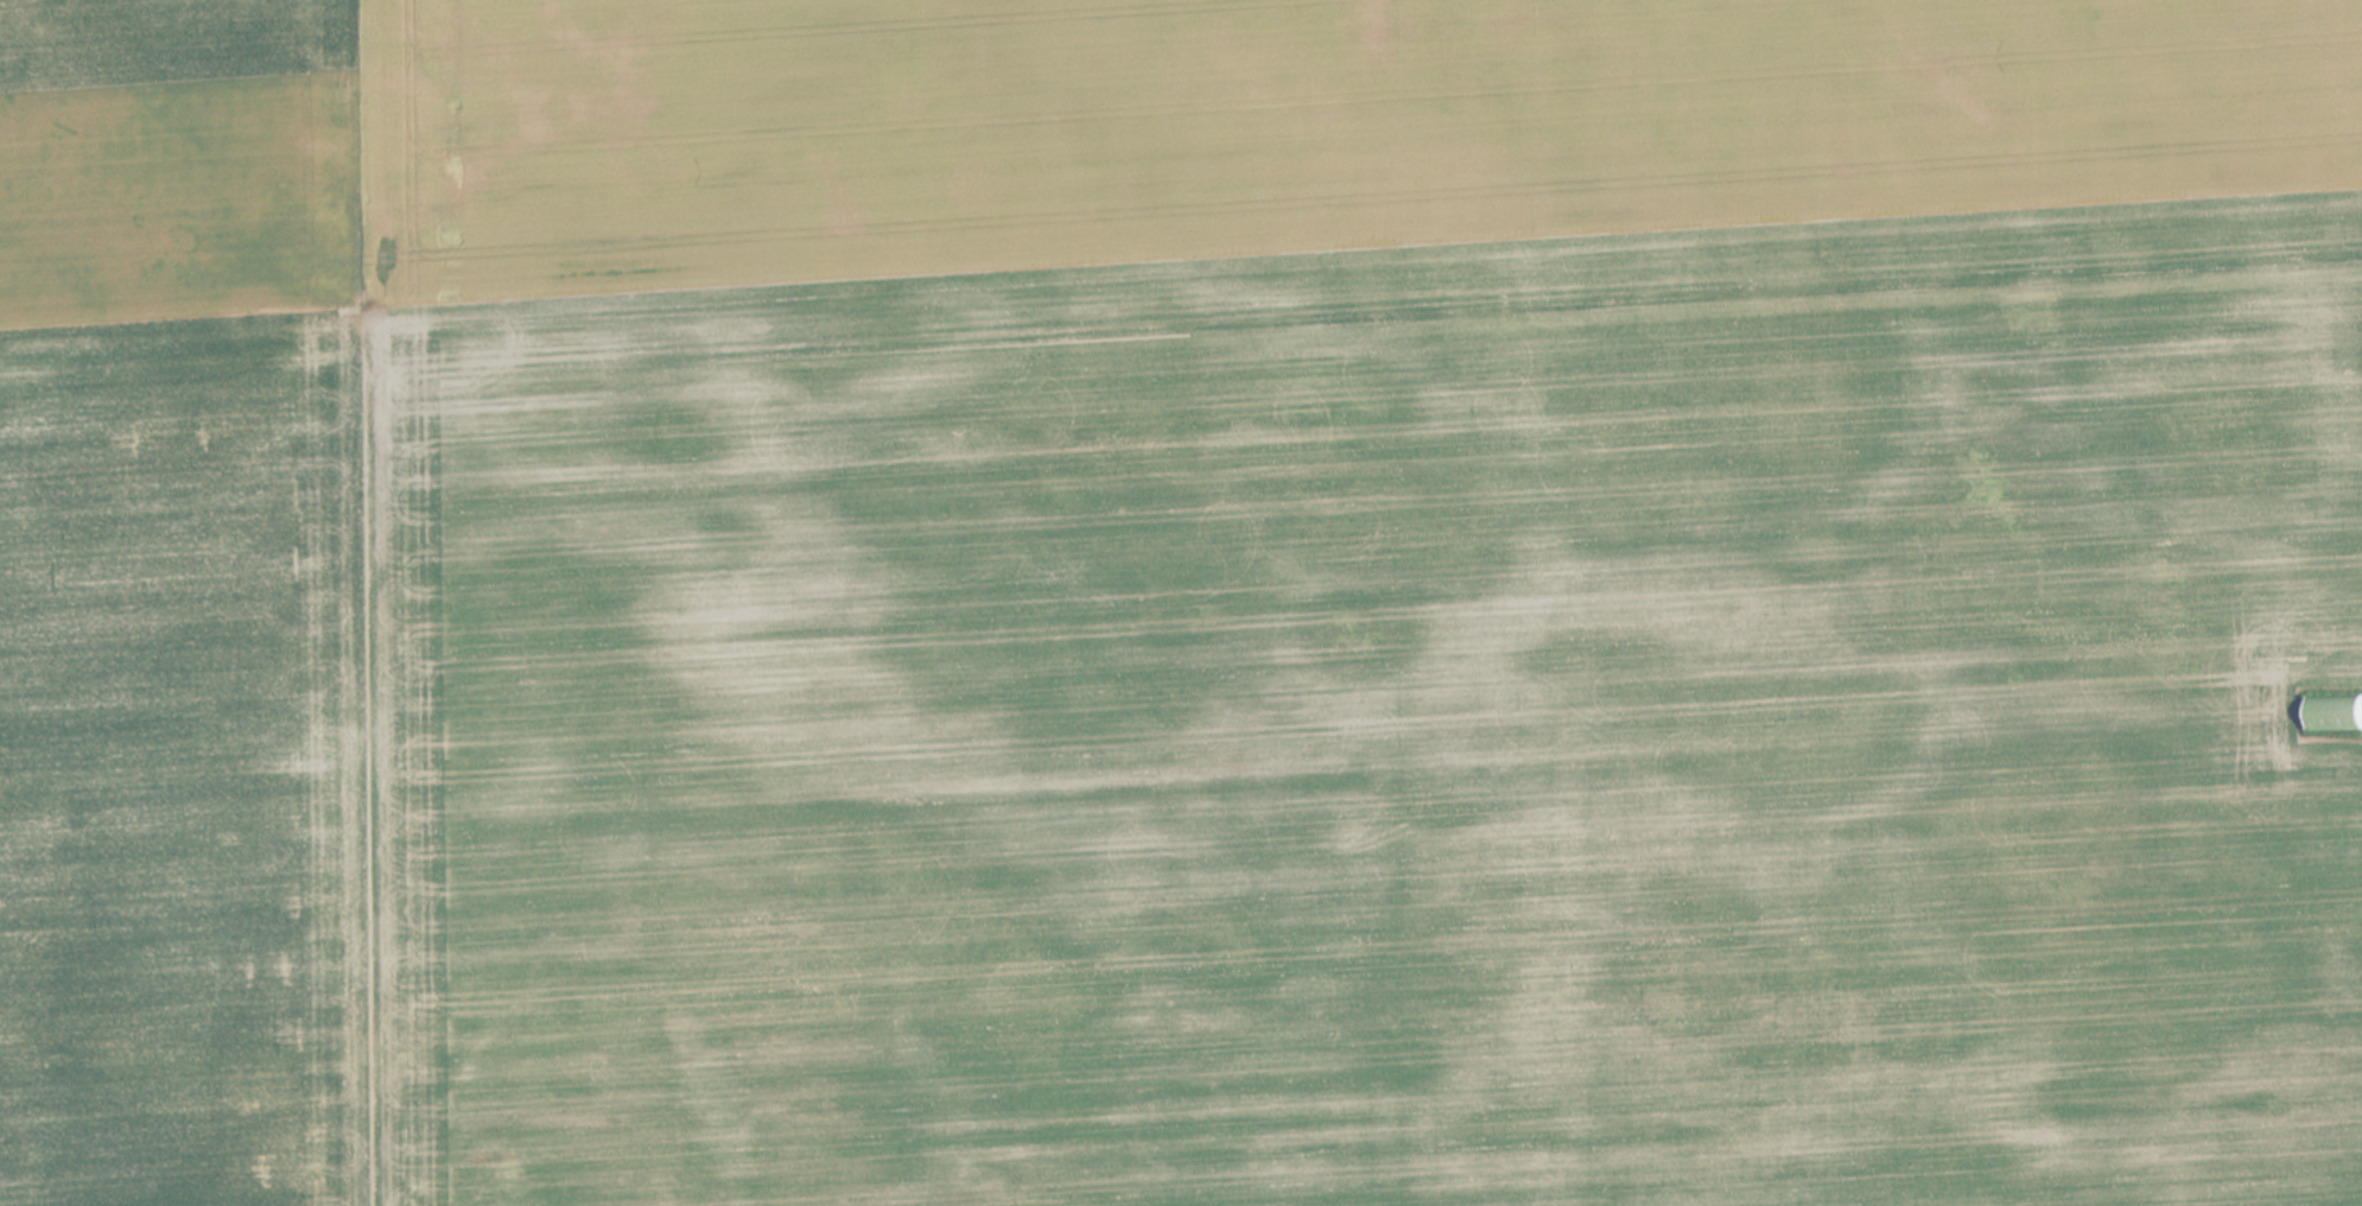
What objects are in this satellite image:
building: (2336, 715)

